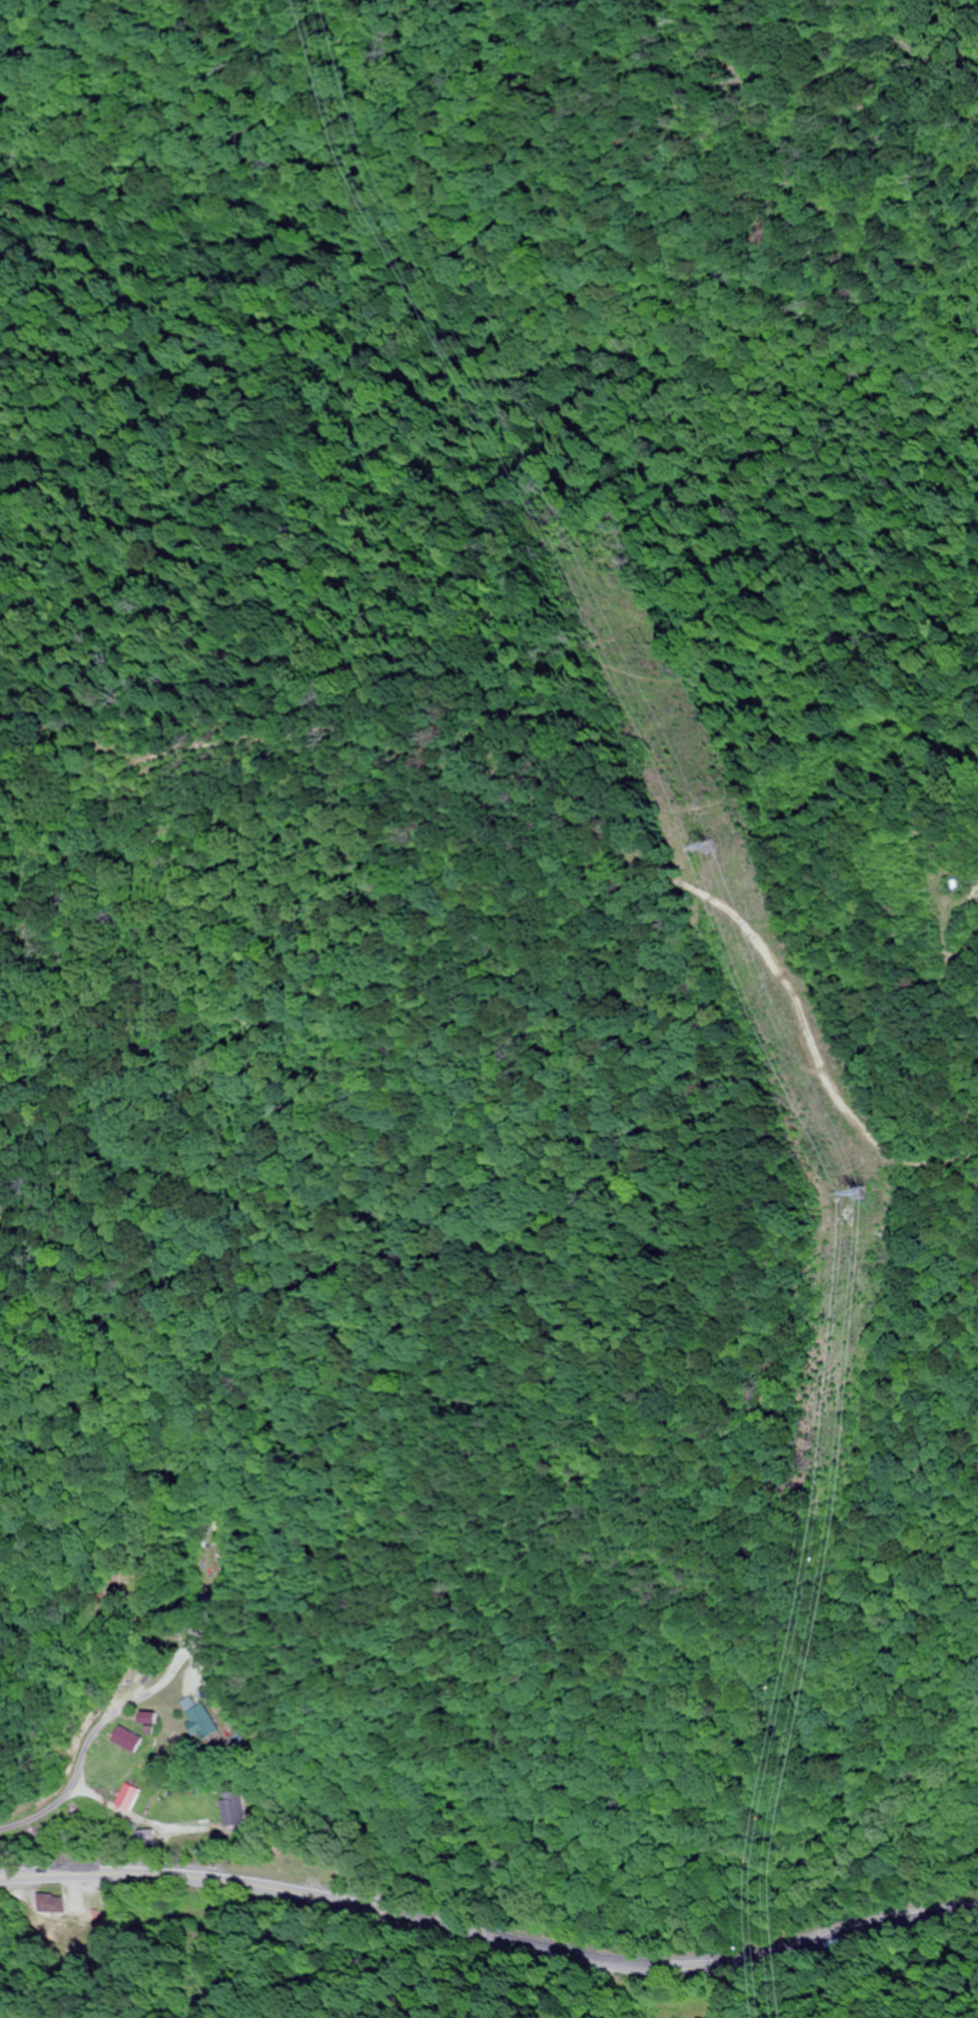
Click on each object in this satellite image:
power tower: (715, 847)
power tower: (867, 1194)
building: (206, 1613)
building: (152, 1718)
building: (210, 1720)
building: (130, 1740)
road: (75, 1777)
building: (130, 1798)
building: (232, 1810)
road: (489, 1942)

